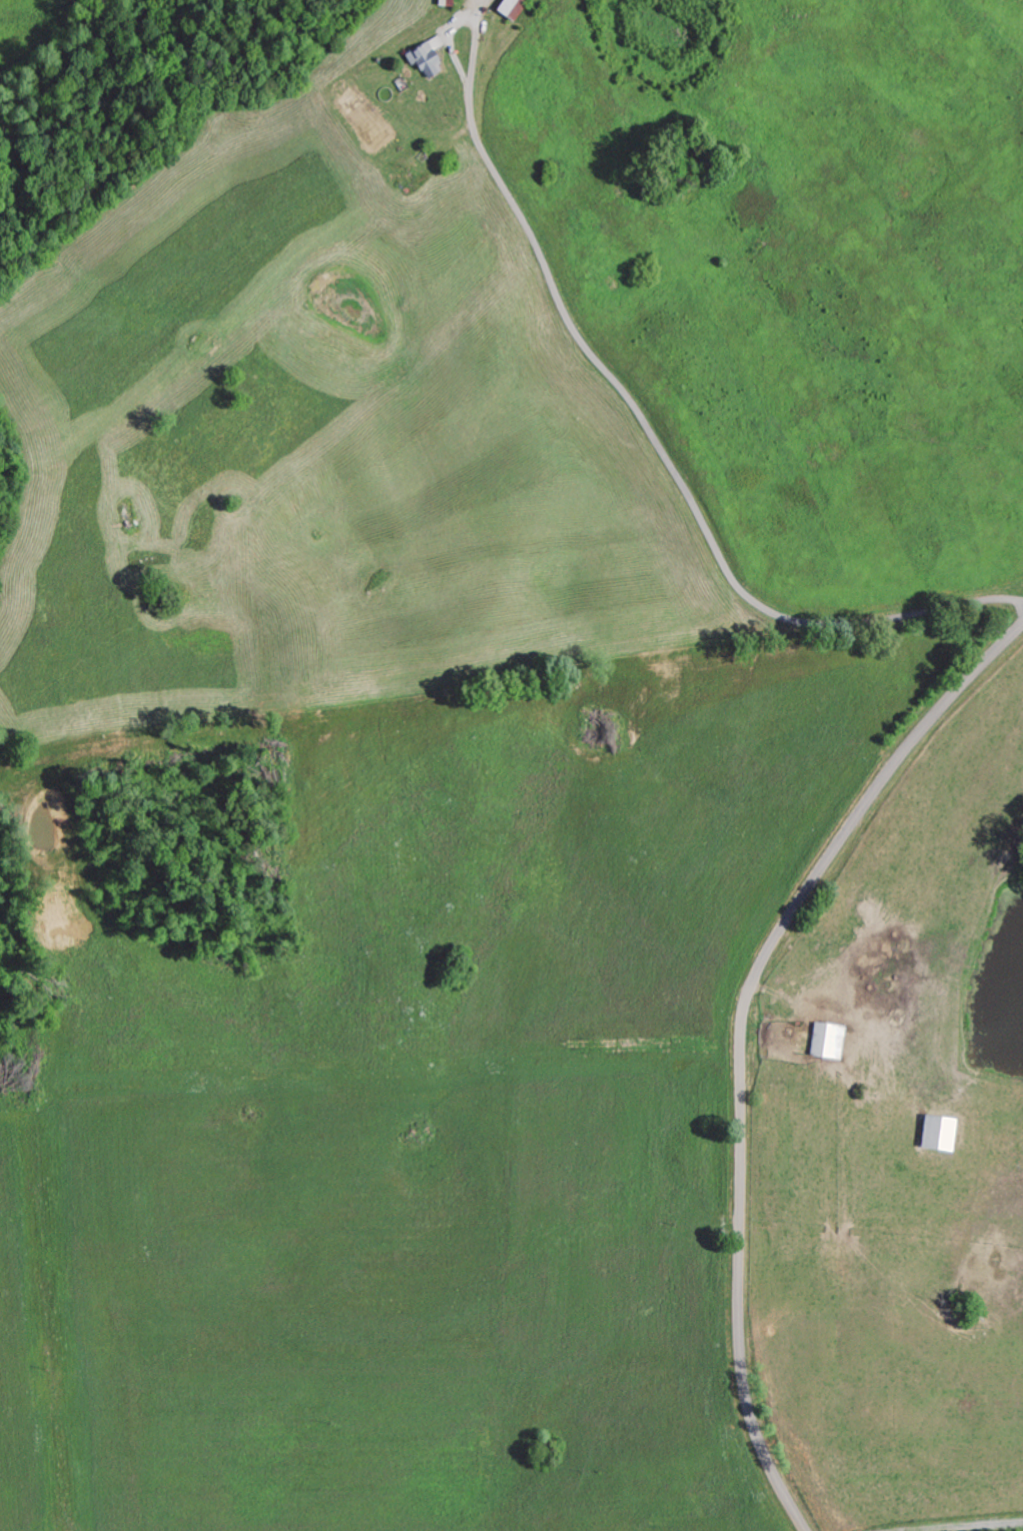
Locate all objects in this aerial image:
building: (448, 2)
building: (512, 7)
building: (426, 55)
park: (681, 152)
road: (660, 447)
road: (744, 1038)
building: (827, 1040)
building: (939, 1133)

